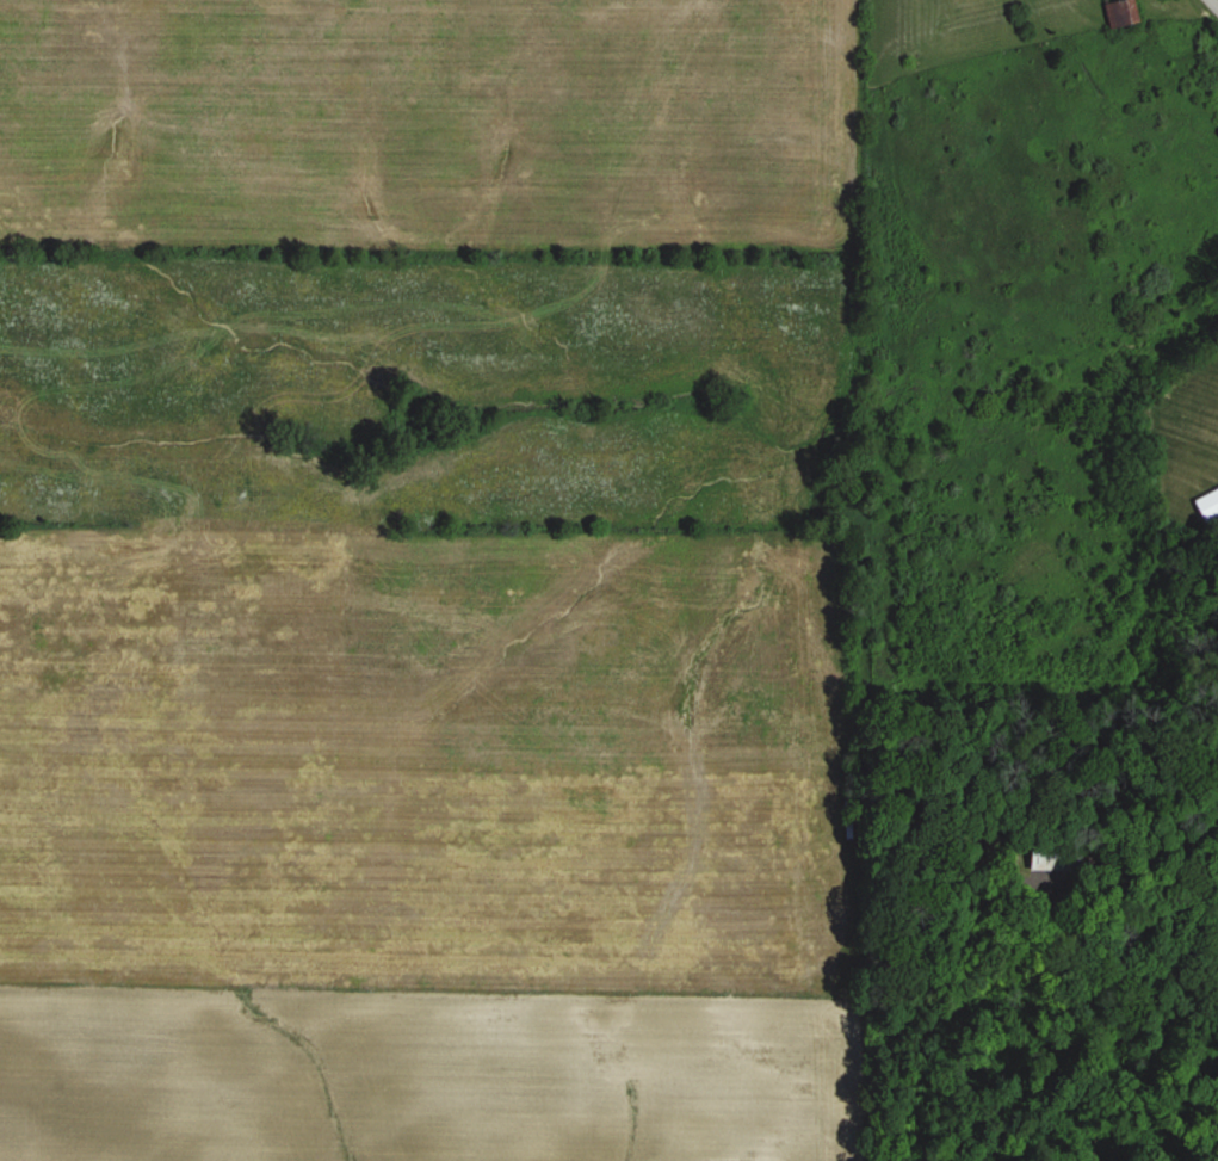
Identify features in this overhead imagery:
road: (1212, 5)
building: (1120, 12)
building: (1207, 505)
building: (1055, 856)

